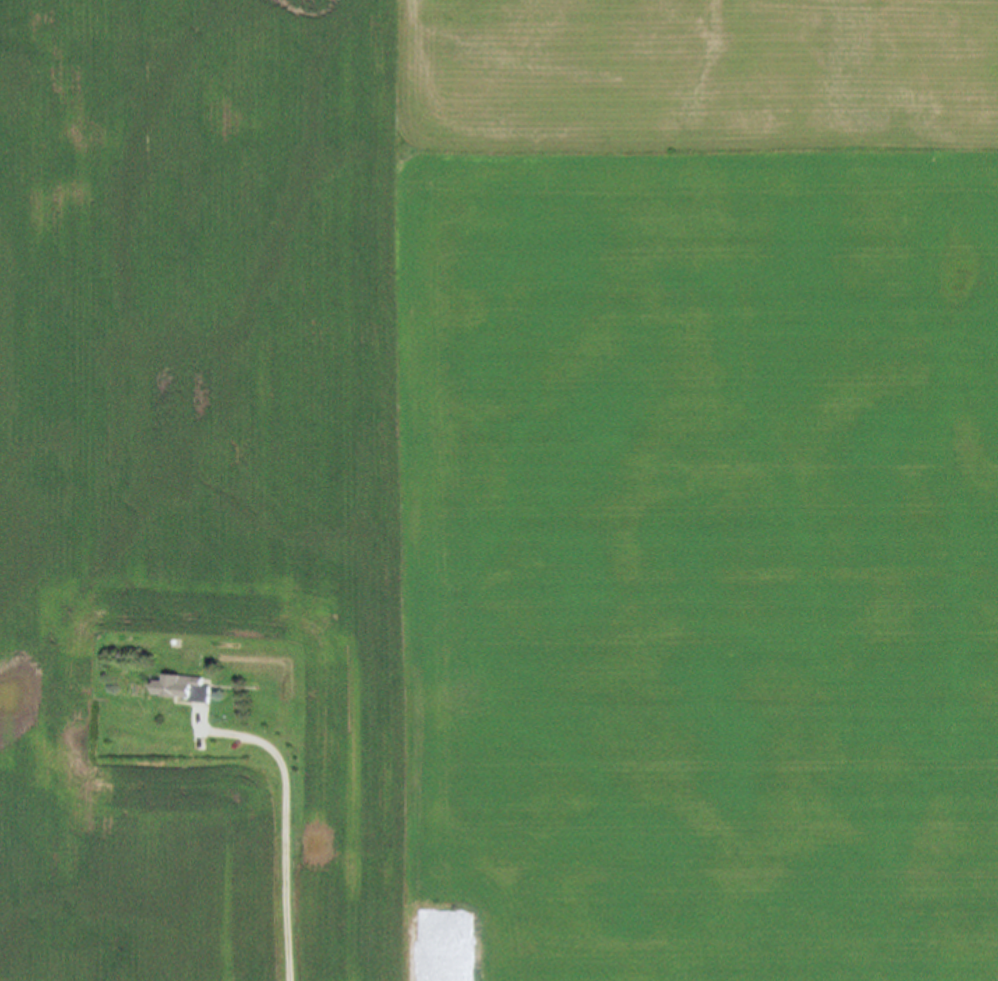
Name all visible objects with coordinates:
building: (189, 689)
road: (288, 825)

